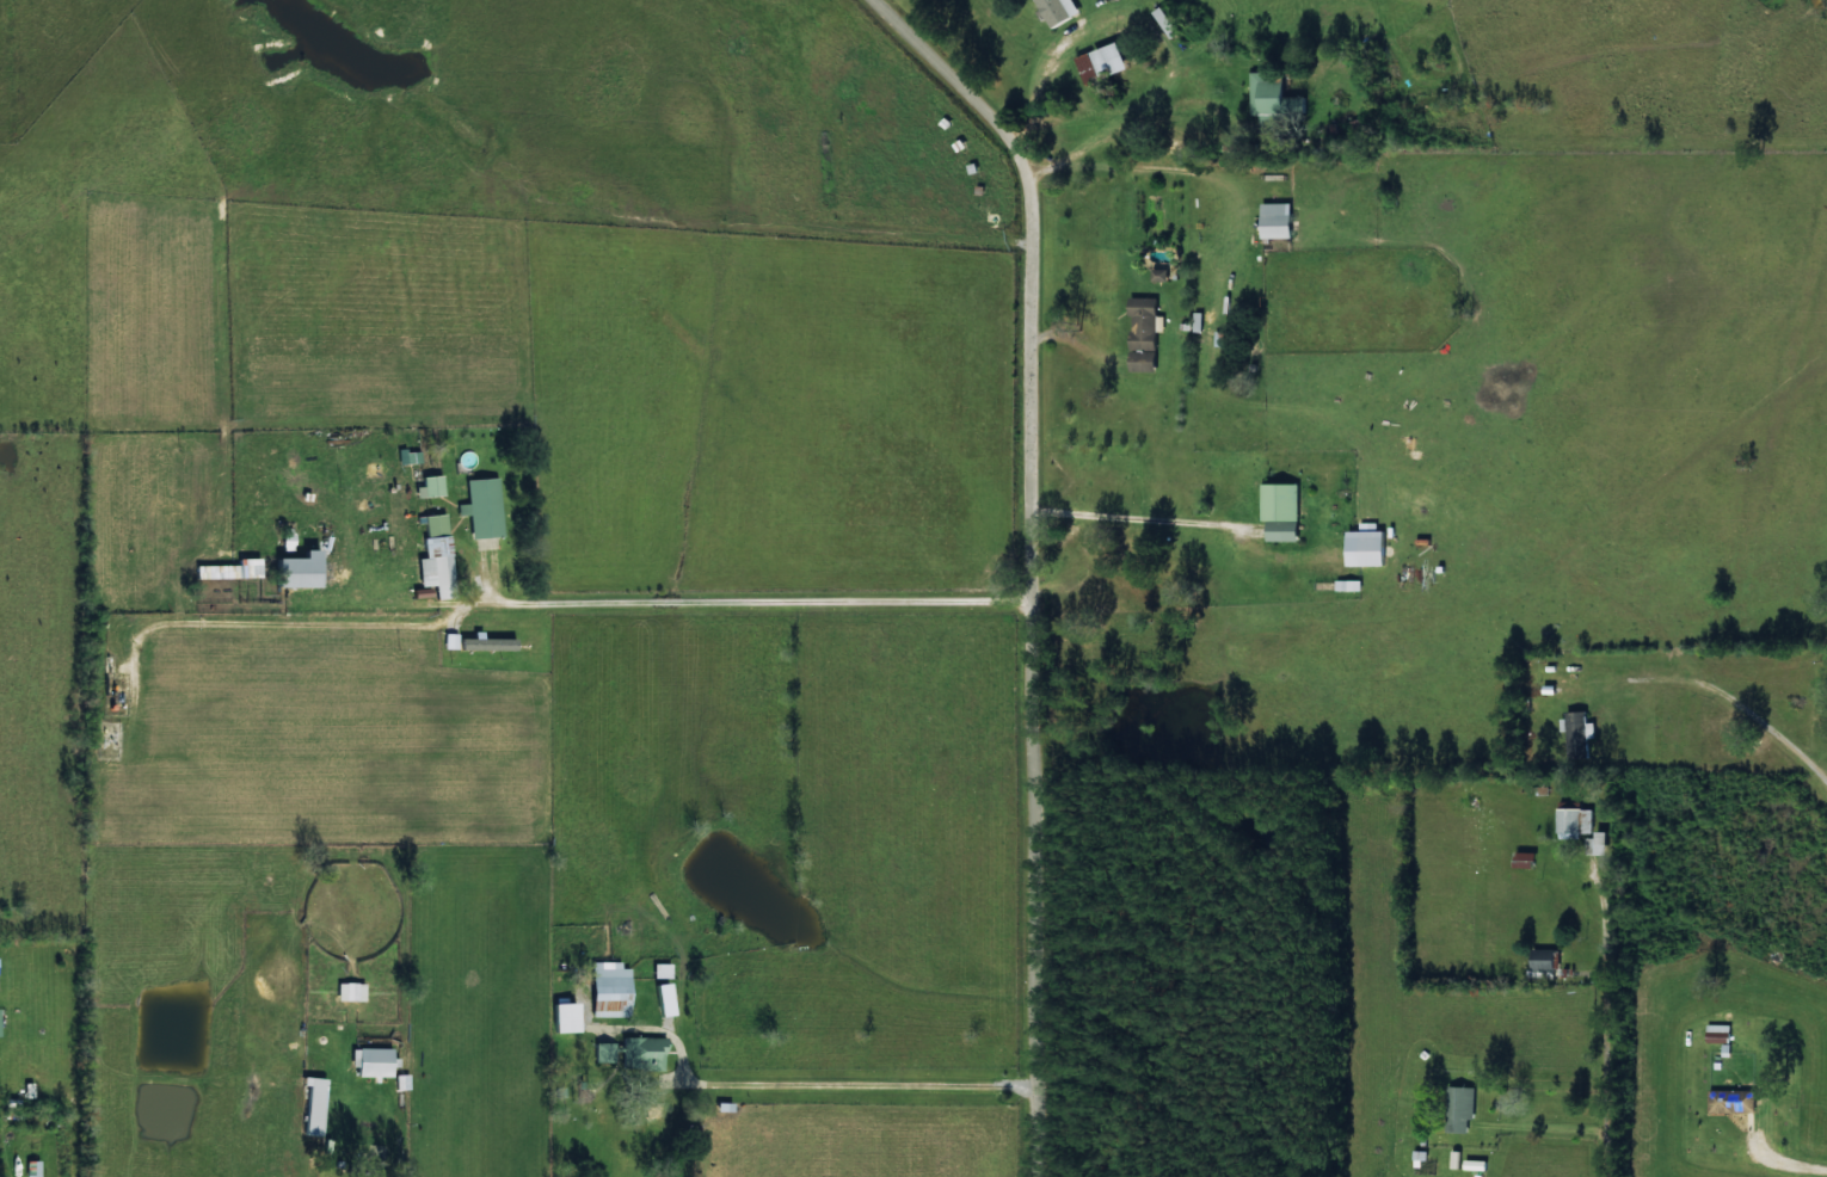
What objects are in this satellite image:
building: (1062, 10)
building: (1106, 61)
building: (1277, 94)
building: (1280, 220)
building: (1163, 273)
building: (1200, 321)
building: (1148, 332)
building: (375, 469)
building: (431, 486)
building: (484, 507)
building: (1284, 511)
road: (1133, 519)
building: (1371, 546)
road: (1034, 547)
building: (437, 555)
building: (230, 569)
building: (301, 569)
building: (1351, 585)
road: (779, 600)
building: (490, 643)
building: (1581, 733)
building: (1577, 822)
building: (1600, 843)
building: (1528, 859)
building: (1546, 965)
building: (662, 969)
building: (611, 986)
road: (1614, 988)
building: (351, 991)
building: (567, 1017)
building: (0, 1033)
building: (604, 1052)
building: (644, 1053)
building: (373, 1060)
road: (866, 1079)
building: (1735, 1101)
building: (314, 1105)
building: (1463, 1108)
building: (1422, 1157)
building: (1457, 1159)
building: (32, 1169)

